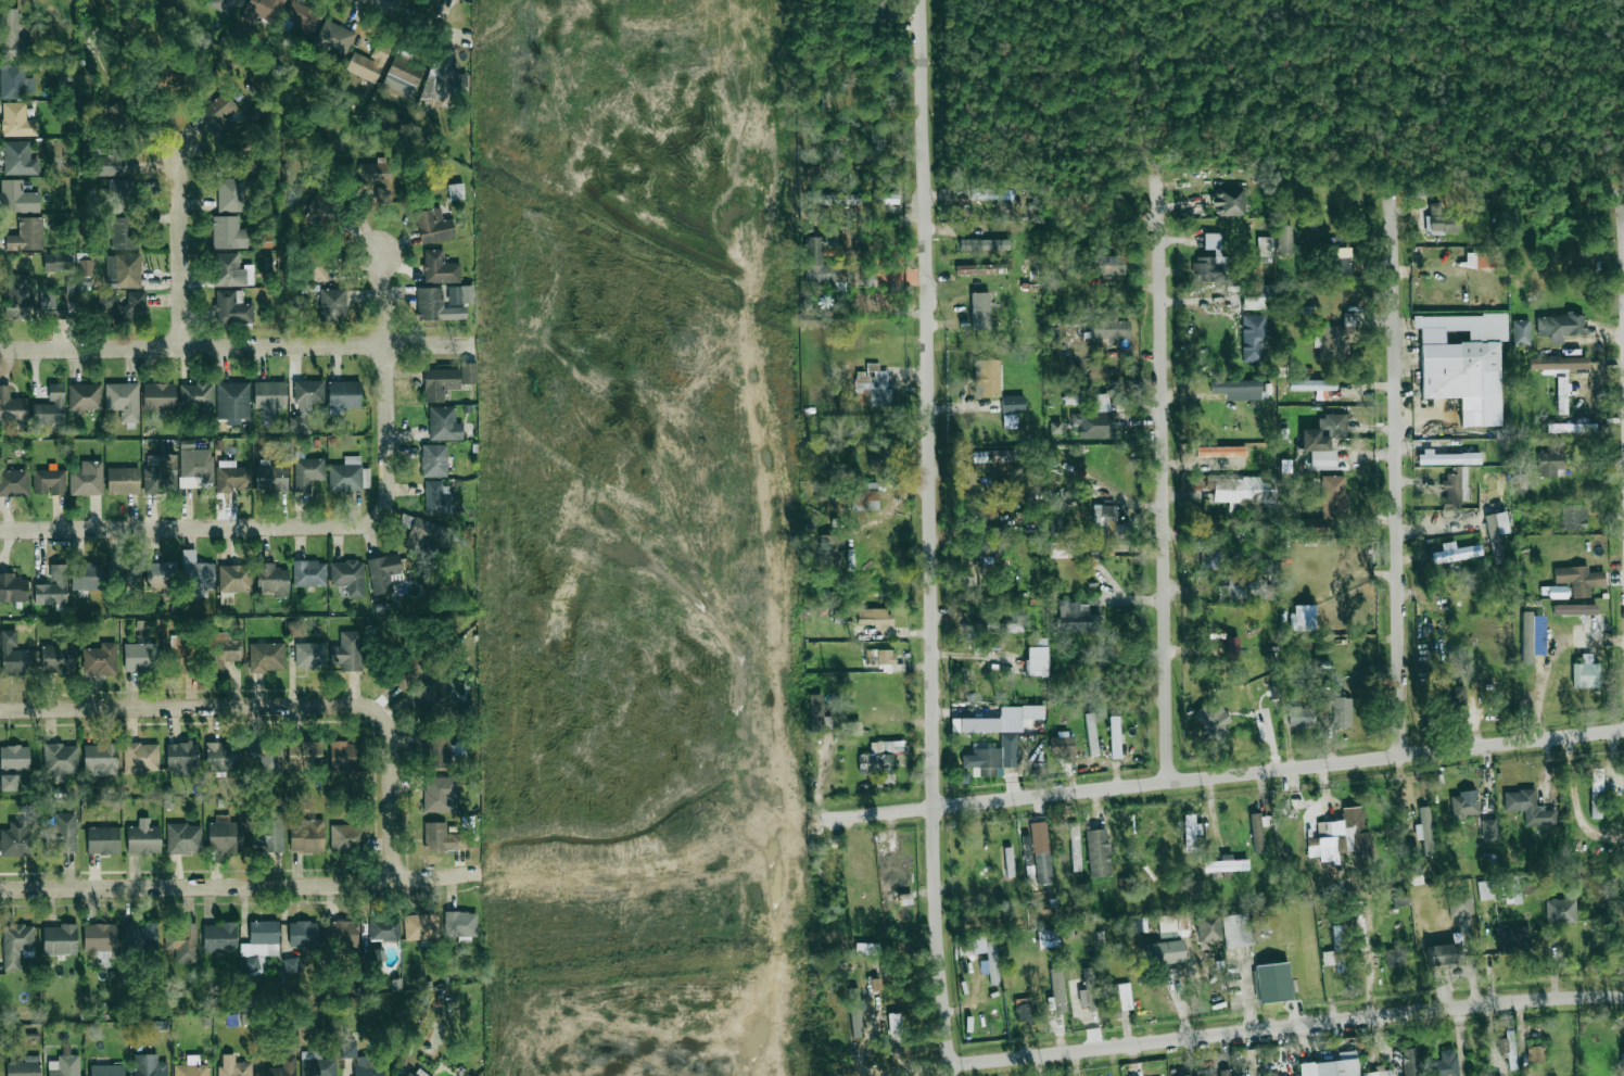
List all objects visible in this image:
building: (224, 3)
building: (262, 10)
building: (876, 13)
road: (409, 17)
building: (302, 18)
building: (10, 33)
building: (334, 38)
building: (368, 64)
building: (444, 76)
building: (403, 77)
building: (14, 81)
building: (119, 111)
building: (218, 115)
building: (17, 121)
building: (879, 142)
building: (18, 159)
building: (110, 162)
building: (378, 178)
building: (457, 191)
building: (230, 194)
building: (997, 197)
building: (17, 198)
building: (837, 200)
building: (1222, 202)
building: (1442, 221)
building: (433, 226)
building: (123, 232)
building: (228, 232)
building: (26, 235)
road: (176, 239)
building: (1284, 239)
building: (850, 244)
building: (985, 244)
building: (1265, 251)
building: (1209, 259)
building: (1480, 259)
building: (59, 262)
building: (1103, 266)
building: (85, 267)
building: (1338, 267)
building: (440, 268)
building: (318, 269)
building: (123, 270)
building: (231, 270)
building: (838, 273)
building: (1254, 299)
road: (380, 300)
building: (18, 303)
building: (444, 303)
building: (52, 305)
building: (122, 305)
building: (332, 305)
building: (231, 307)
building: (980, 311)
building: (1566, 325)
building: (1108, 329)
building: (1521, 331)
building: (1340, 336)
building: (1254, 338)
road: (239, 346)
building: (1463, 363)
building: (1558, 363)
building: (469, 372)
building: (987, 378)
building: (440, 383)
building: (877, 383)
building: (1314, 384)
building: (1238, 389)
building: (344, 394)
building: (1562, 395)
building: (158, 396)
building: (84, 397)
building: (269, 397)
building: (196, 398)
building: (123, 400)
building: (306, 401)
building: (232, 402)
road: (928, 403)
building: (1011, 404)
building: (12, 406)
building: (51, 407)
building: (444, 423)
building: (1095, 425)
building: (1572, 428)
building: (1321, 436)
building: (992, 456)
building: (1448, 458)
building: (434, 460)
building: (878, 464)
building: (1550, 464)
building: (195, 468)
building: (307, 472)
building: (161, 476)
building: (271, 476)
building: (348, 476)
building: (231, 477)
building: (87, 479)
road: (1395, 479)
building: (49, 481)
building: (123, 481)
building: (14, 482)
building: (1195, 483)
building: (1067, 485)
building: (1456, 486)
road: (1163, 489)
building: (1243, 490)
building: (439, 498)
building: (864, 499)
building: (1328, 506)
building: (1574, 517)
building: (1104, 522)
road: (275, 528)
building: (1054, 528)
building: (1496, 528)
building: (423, 533)
building: (834, 542)
building: (1456, 553)
building: (1065, 554)
building: (988, 569)
building: (196, 572)
building: (383, 572)
building: (309, 573)
building: (126, 574)
building: (160, 574)
building: (87, 577)
building: (348, 577)
building: (234, 578)
building: (272, 579)
building: (1582, 582)
building: (52, 587)
building: (12, 588)
building: (1253, 591)
building: (1558, 592)
building: (226, 598)
building: (1574, 609)
building: (1074, 617)
building: (875, 620)
building: (1303, 621)
building: (1000, 625)
building: (294, 629)
building: (1536, 636)
building: (1232, 645)
building: (220, 651)
building: (347, 651)
building: (180, 655)
building: (309, 655)
building: (13, 656)
building: (140, 657)
building: (267, 657)
building: (58, 658)
building: (886, 658)
building: (1038, 658)
building: (100, 659)
road: (1548, 659)
building: (408, 672)
building: (1587, 672)
building: (1449, 697)
building: (436, 698)
building: (819, 707)
road: (274, 708)
building: (1340, 712)
building: (1301, 717)
building: (1214, 719)
building: (1000, 720)
building: (854, 727)
building: (1091, 734)
building: (1117, 736)
building: (1061, 746)
building: (437, 750)
building: (267, 754)
building: (304, 755)
building: (346, 755)
building: (14, 757)
building: (141, 757)
building: (223, 757)
building: (986, 757)
building: (182, 758)
building: (881, 758)
building: (100, 759)
building: (60, 761)
road: (1229, 775)
building: (965, 777)
building: (1623, 778)
building: (8, 783)
building: (1597, 793)
building: (441, 794)
road: (1576, 803)
building: (1464, 806)
building: (1528, 809)
building: (1420, 822)
building: (1189, 826)
building: (269, 831)
building: (1328, 831)
building: (1356, 831)
building: (1489, 831)
building: (61, 834)
building: (220, 834)
building: (1258, 834)
building: (306, 835)
building: (143, 837)
building: (347, 837)
building: (17, 838)
building: (183, 838)
building: (444, 838)
building: (103, 840)
building: (1098, 852)
building: (1028, 859)
building: (1008, 861)
building: (1413, 861)
building: (979, 862)
building: (1042, 866)
building: (1226, 866)
road: (436, 875)
building: (891, 876)
road: (194, 883)
building: (1484, 889)
building: (1512, 890)
building: (1400, 902)
building: (1460, 904)
building: (1561, 912)
building: (1160, 923)
building: (461, 924)
building: (421, 926)
building: (1206, 927)
building: (383, 929)
building: (1235, 929)
building: (303, 934)
building: (341, 934)
building: (140, 936)
building: (1360, 936)
building: (219, 937)
road: (937, 937)
building: (1513, 937)
building: (60, 939)
building: (262, 939)
building: (100, 940)
building: (181, 941)
building: (16, 945)
building: (1340, 947)
building: (867, 949)
building: (1165, 952)
building: (1443, 955)
building: (1397, 957)
building: (376, 958)
building: (990, 963)
building: (291, 964)
building: (253, 965)
building: (1272, 983)
building: (876, 984)
building: (1007, 989)
building: (1057, 990)
building: (1088, 990)
building: (1115, 998)
building: (1024, 1011)
building: (855, 1013)
road: (1285, 1027)
building: (895, 1028)
building: (1507, 1035)
building: (348, 1050)
building: (1536, 1054)
building: (1410, 1062)
building: (317, 1064)
building: (1444, 1064)
building: (1622, 1064)
building: (149, 1065)
building: (25, 1066)
building: (64, 1066)
building: (233, 1066)
building: (191, 1067)
building: (283, 1067)
building: (369, 1067)
building: (1336, 1068)
building: (106, 1069)
road: (949, 1072)
building: (420, 1073)
building: (1379, 1073)
building: (407, 1074)
building: (1189, 1075)
building: (1222, 1075)

